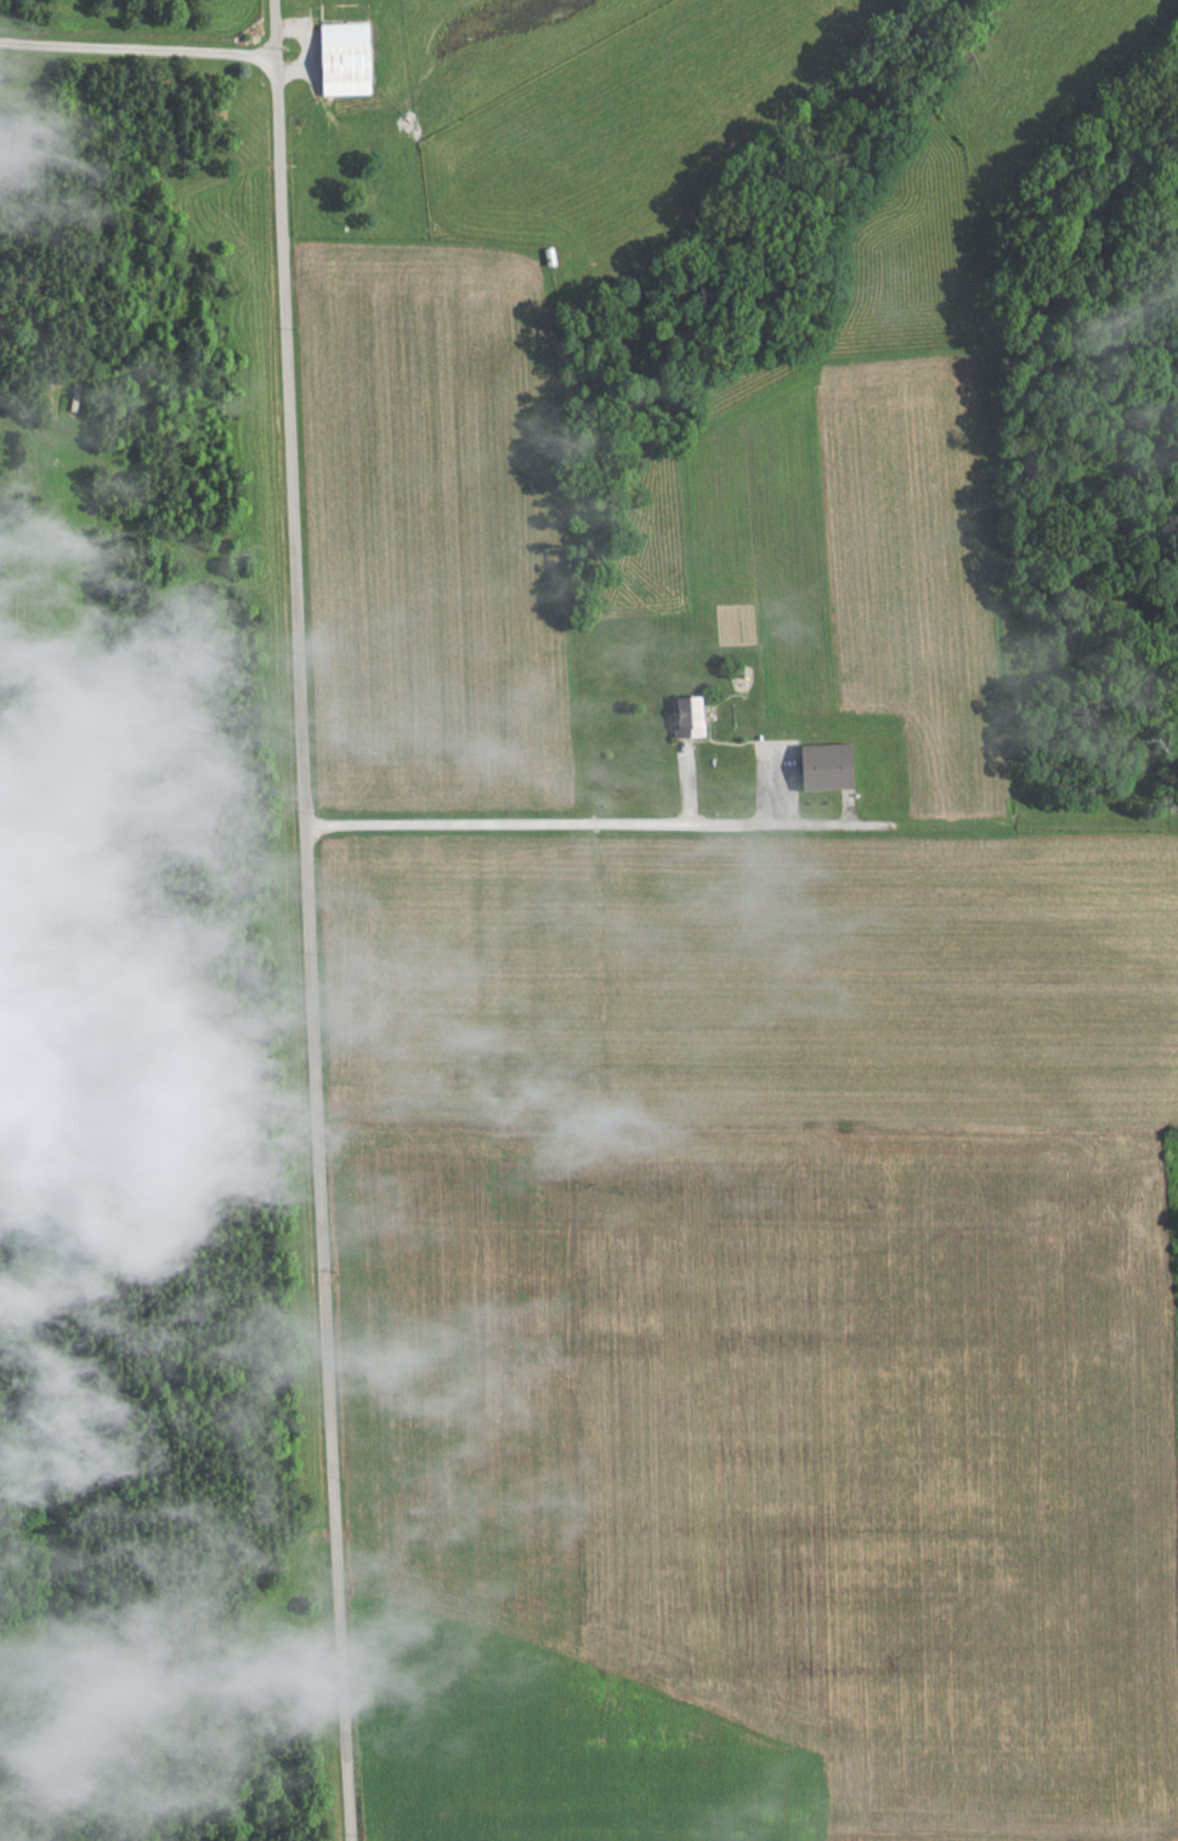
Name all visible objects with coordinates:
road: (136, 49)
building: (334, 64)
building: (678, 723)
building: (816, 772)
road: (306, 921)

